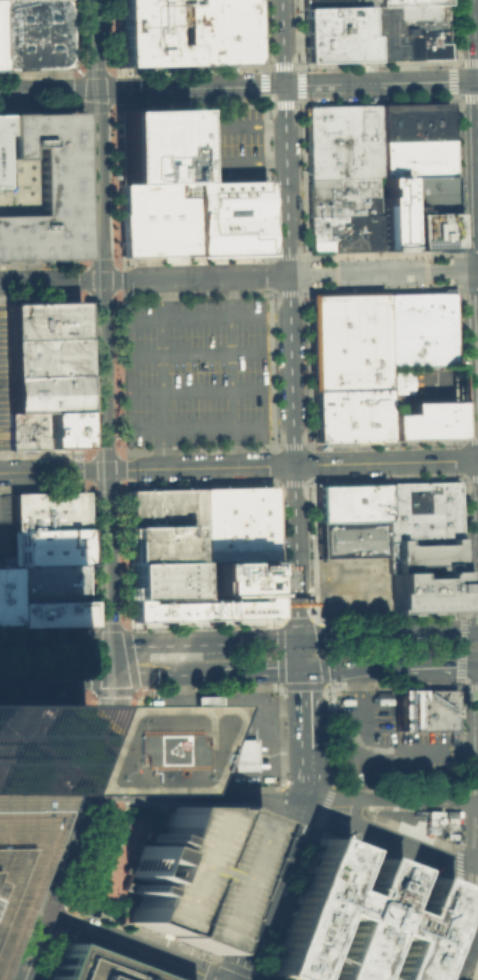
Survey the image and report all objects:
building: (338, 2)
parking lot: (338, 2)
building: (408, 2)
parking lot: (408, 2)
building: (408, 31)
building: (225, 32)
building: (151, 33)
building: (337, 33)
parking lot: (337, 33)
building: (34, 34)
road: (475, 37)
road: (473, 40)
road: (96, 44)
traffic signals: (474, 80)
road: (476, 80)
road: (285, 84)
traffic signals: (283, 85)
traffic signals: (97, 89)
road: (48, 90)
road: (465, 96)
building: (412, 121)
road: (476, 124)
building: (342, 139)
road: (197, 144)
parking lot: (227, 146)
building: (155, 147)
road: (476, 153)
building: (413, 157)
building: (0, 158)
road: (474, 175)
road: (99, 184)
building: (36, 186)
building: (427, 194)
building: (391, 212)
building: (344, 213)
building: (229, 219)
building: (156, 220)
building: (428, 231)
road: (468, 252)
road: (100, 265)
road: (477, 270)
road: (269, 275)
road: (290, 275)
road: (84, 279)
road: (116, 279)
traffic signals: (103, 280)
road: (51, 281)
road: (100, 294)
road: (470, 294)
road: (477, 300)
railway: (96, 312)
road: (193, 317)
road: (289, 319)
building: (417, 328)
building: (41, 337)
building: (346, 340)
road: (193, 353)
parking lot: (194, 371)
road: (230, 371)
road: (159, 373)
road: (87, 374)
road: (104, 374)
parking lot: (2, 383)
road: (195, 390)
building: (43, 392)
building: (348, 414)
building: (421, 420)
road: (196, 426)
building: (62, 429)
building: (24, 430)
road: (470, 440)
railway: (82, 441)
road: (104, 454)
road: (462, 458)
road: (385, 461)
road: (200, 466)
road: (119, 468)
road: (90, 469)
traffic signals: (106, 469)
road: (53, 470)
road: (470, 477)
road: (306, 480)
road: (105, 484)
building: (350, 501)
building: (420, 508)
building: (46, 509)
building: (235, 522)
building: (162, 523)
parking lot: (5, 529)
building: (350, 538)
building: (47, 545)
building: (421, 554)
road: (108, 556)
building: (161, 579)
building: (47, 582)
building: (422, 591)
building: (216, 593)
building: (5, 595)
street lamp: (465, 606)
building: (48, 611)
road: (93, 632)
road: (434, 635)
road: (250, 639)
traffic signals: (298, 639)
road: (61, 644)
traffic signals: (112, 644)
road: (5, 646)
road: (298, 654)
road: (113, 659)
road: (388, 665)
traffic signals: (299, 669)
road: (258, 670)
road: (166, 673)
road: (82, 675)
traffic signals: (115, 675)
road: (25, 676)
building: (402, 707)
building: (432, 708)
road: (361, 710)
road: (237, 714)
building: (207, 715)
gas station: (207, 715)
road: (301, 725)
road: (106, 735)
parking lot: (166, 736)
railway: (98, 738)
parking lot: (388, 745)
building: (32, 750)
building: (226, 752)
road: (390, 754)
fountain: (133, 765)
road: (191, 773)
road: (328, 790)
road: (69, 792)
traffic signals: (86, 793)
road: (192, 794)
road: (301, 795)
road: (387, 800)
road: (352, 813)
building: (435, 819)
parking lot: (423, 820)
road: (388, 840)
building: (14, 846)
road: (65, 852)
road: (457, 853)
building: (188, 871)
parking lot: (188, 871)
road: (468, 890)
road: (264, 893)
road: (45, 895)
road: (18, 902)
road: (29, 906)
railway: (34, 913)
traffic signals: (47, 913)
building: (357, 920)
road: (33, 927)
road: (6, 935)
railway: (16, 939)
road: (464, 943)
road: (36, 946)
road: (134, 946)
road: (228, 964)
building: (88, 967)

